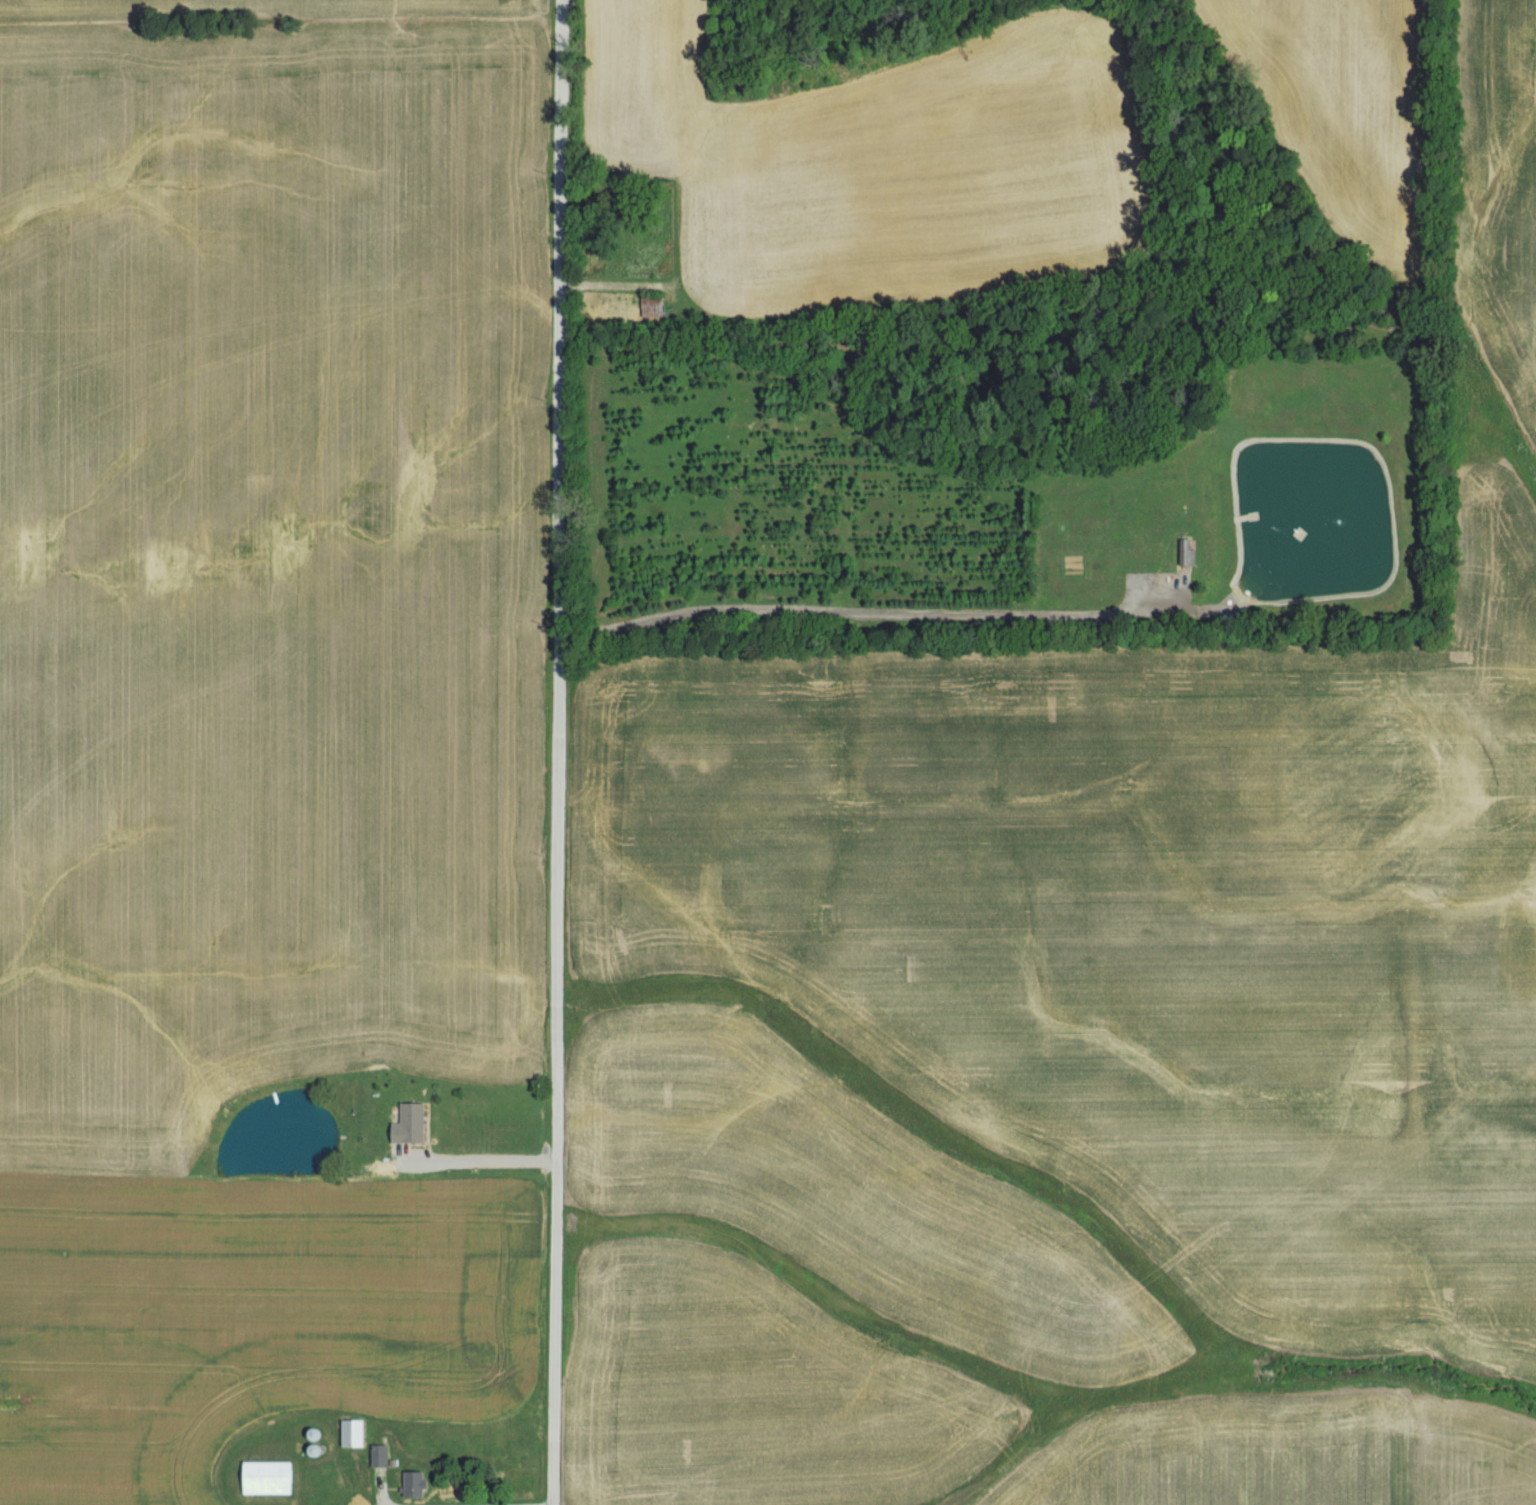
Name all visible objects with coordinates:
building: (650, 309)
road: (860, 613)
road: (549, 752)
building: (407, 1126)
road: (485, 1162)
building: (350, 1434)
building: (379, 1457)
building: (265, 1479)
building: (412, 1485)
road: (382, 1494)

